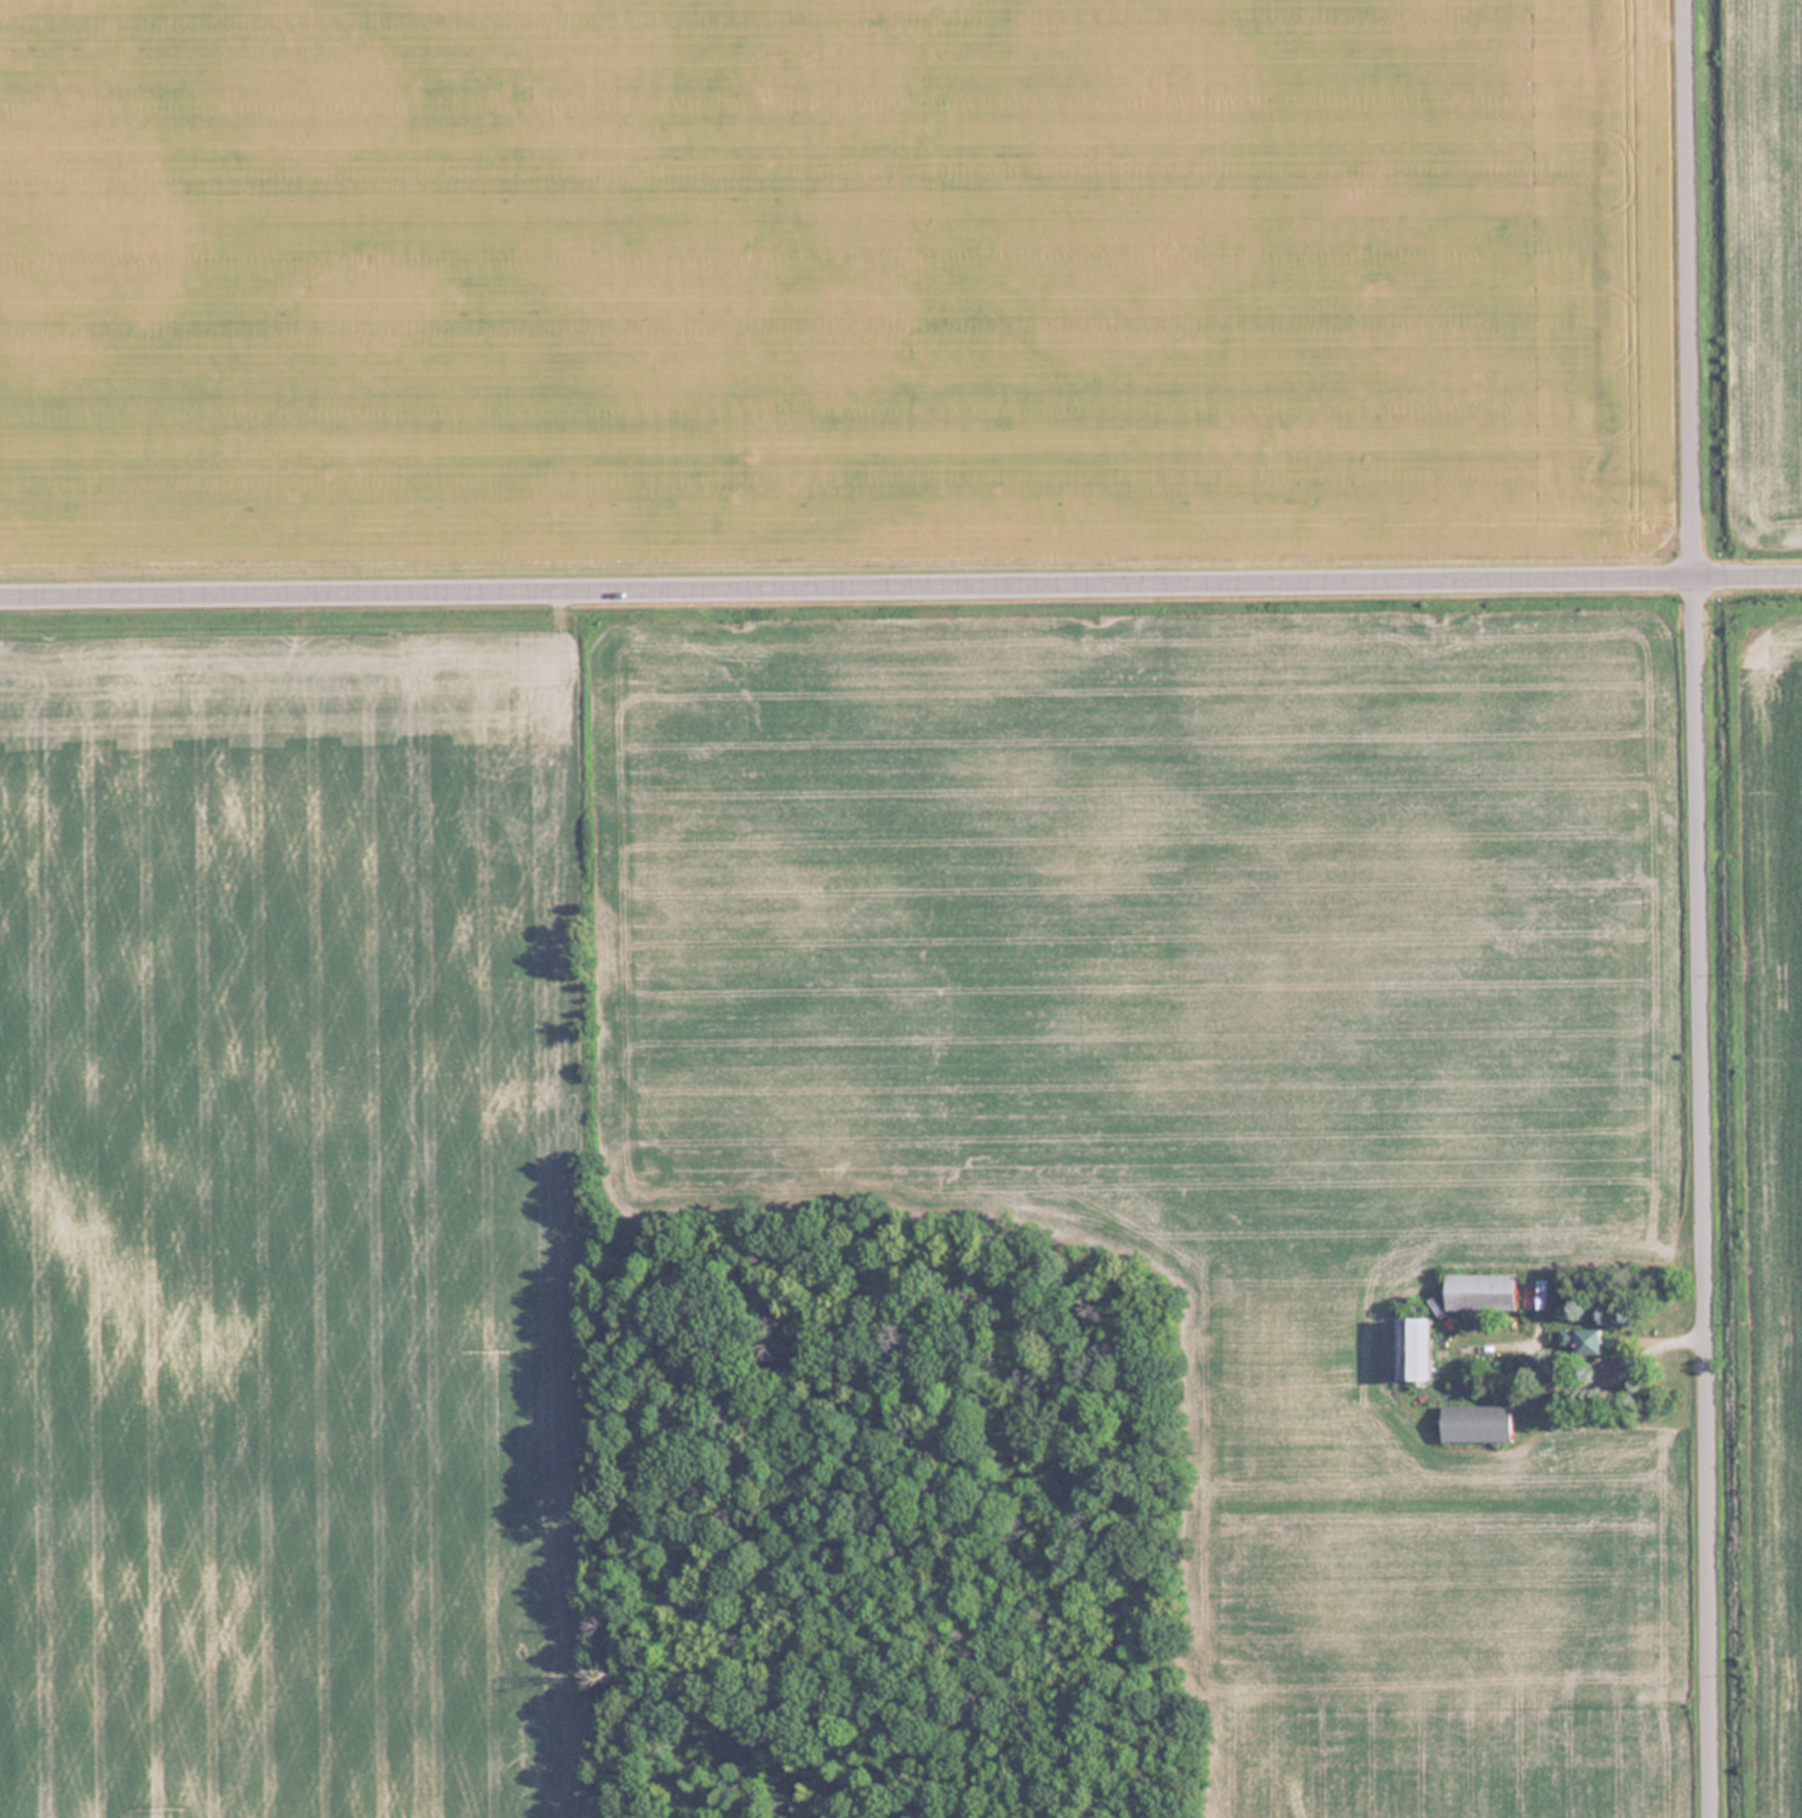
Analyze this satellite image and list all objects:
road: (1695, 289)
road: (900, 586)
road: (1708, 1198)
building: (1477, 1290)
building: (1533, 1292)
building: (1580, 1340)
building: (1412, 1348)
building: (1475, 1422)

